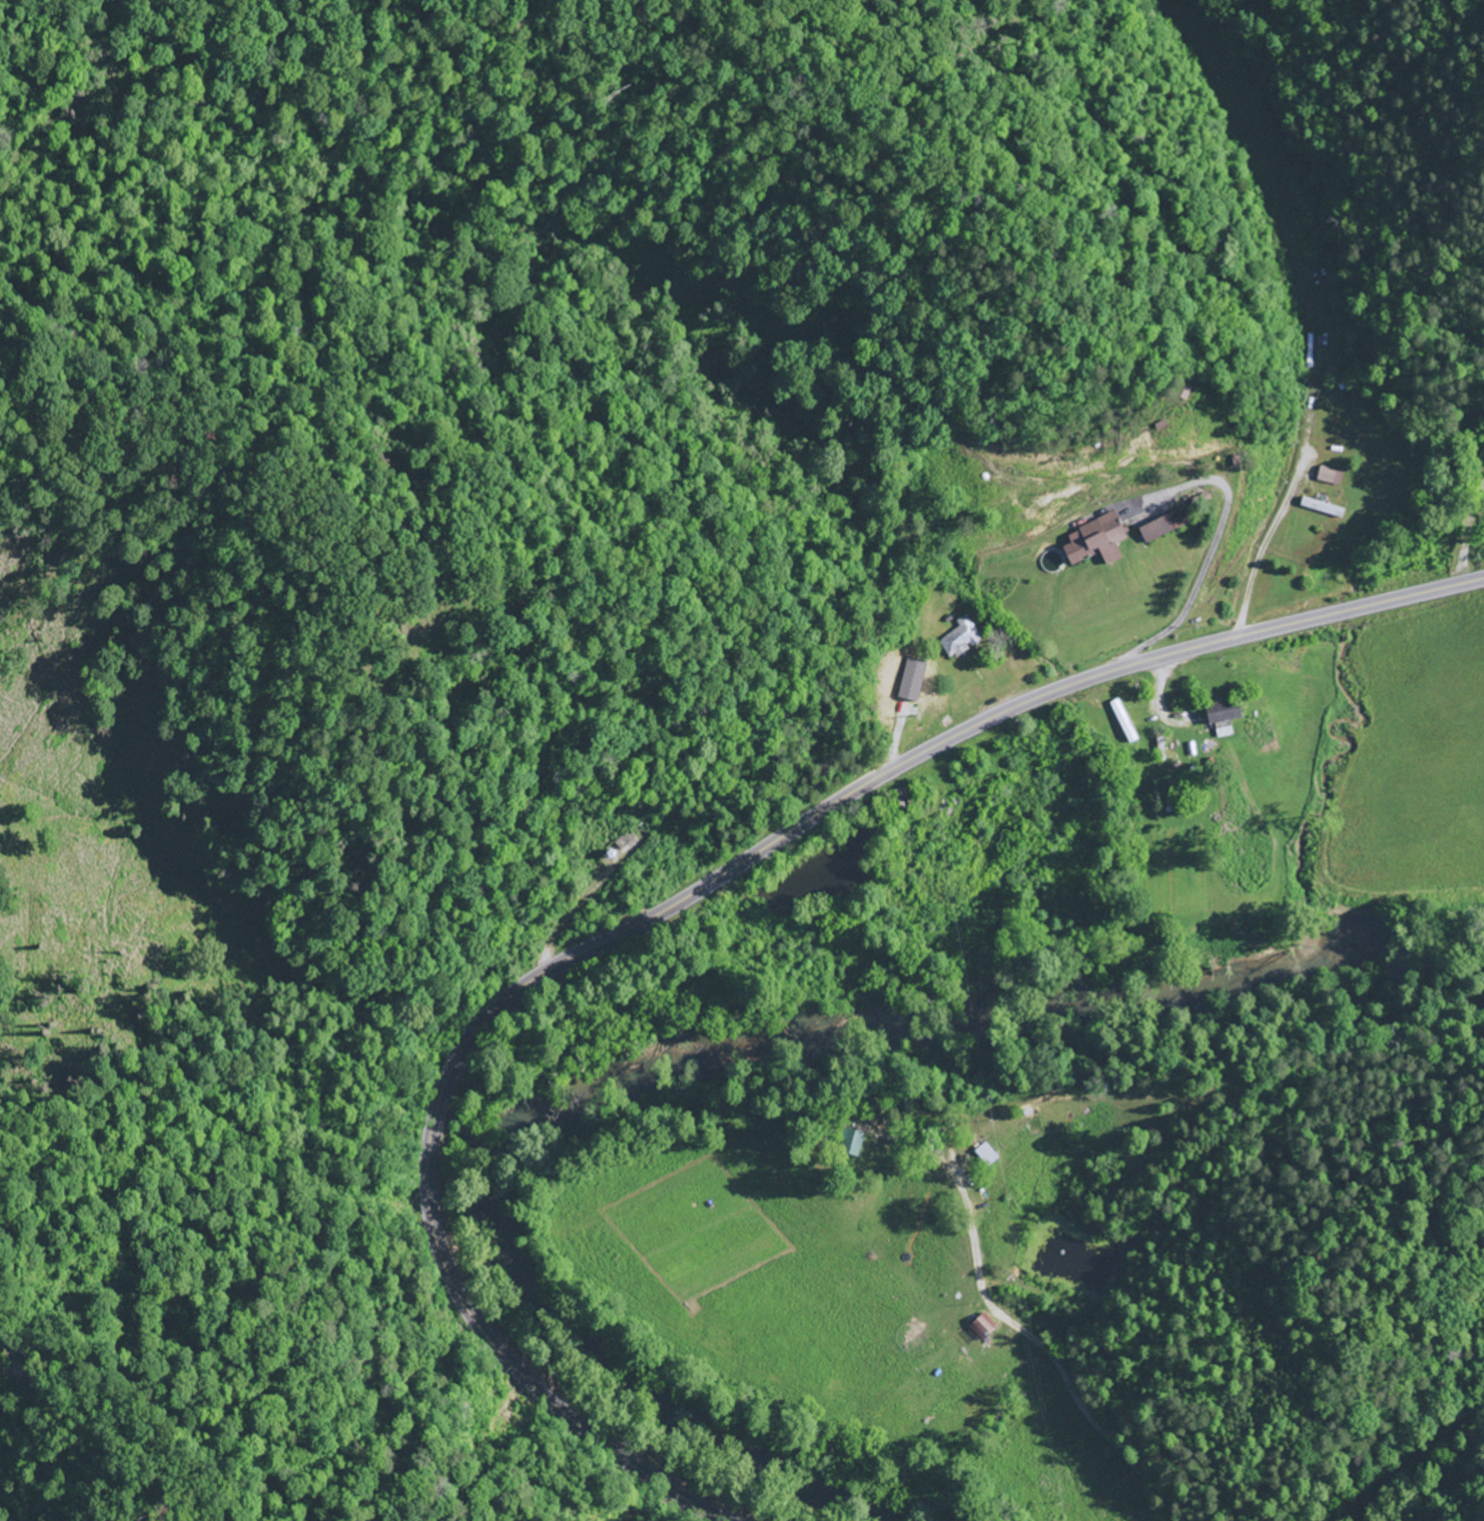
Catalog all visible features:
building: (1331, 477)
building: (1324, 509)
building: (1167, 526)
building: (1098, 542)
building: (962, 640)
building: (1226, 713)
building: (1126, 722)
road: (681, 901)
building: (854, 1141)
road: (1063, 1372)

